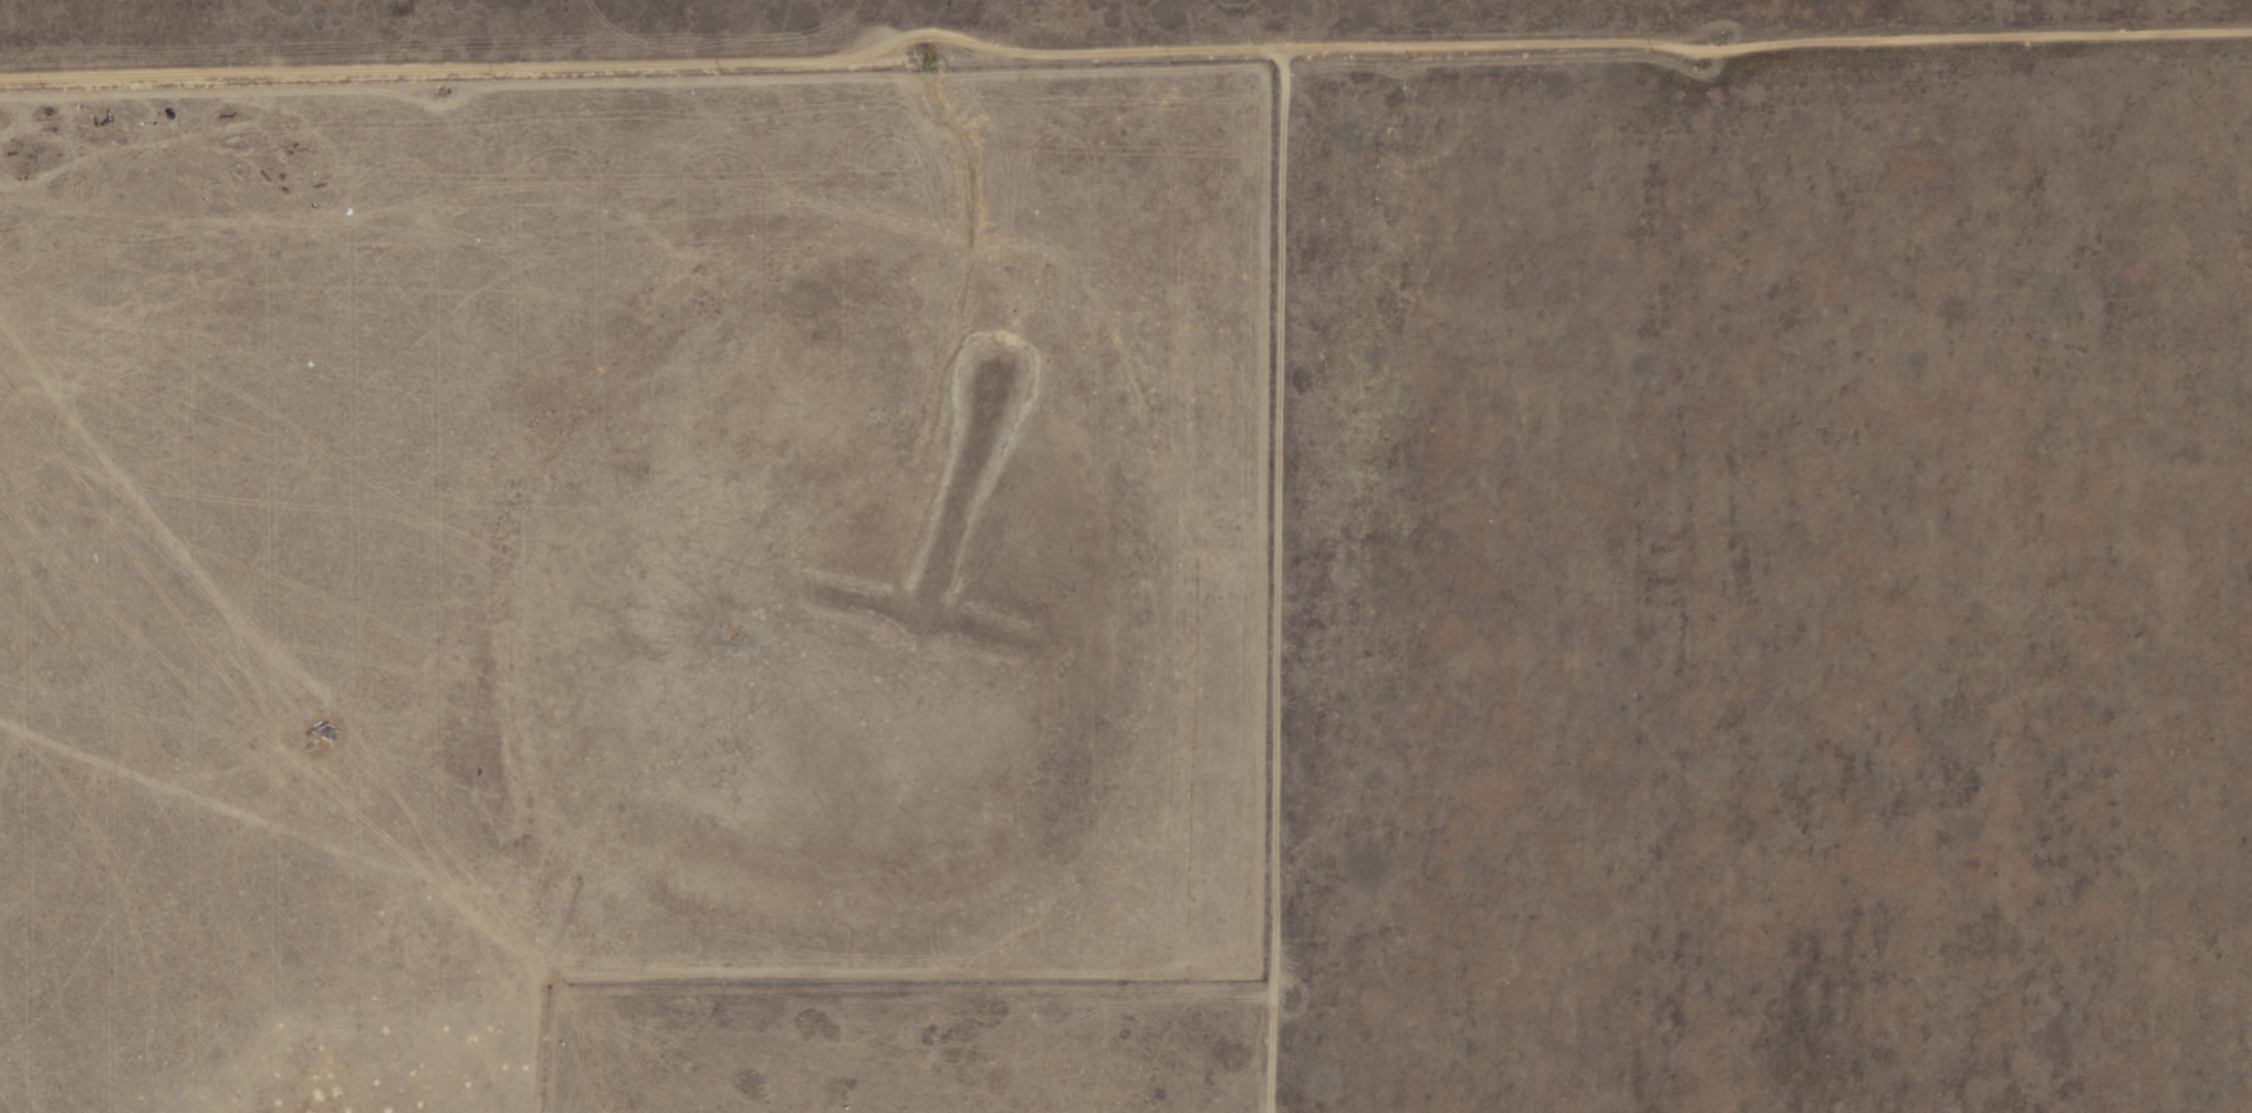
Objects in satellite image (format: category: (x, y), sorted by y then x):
road: (1126, 54)

